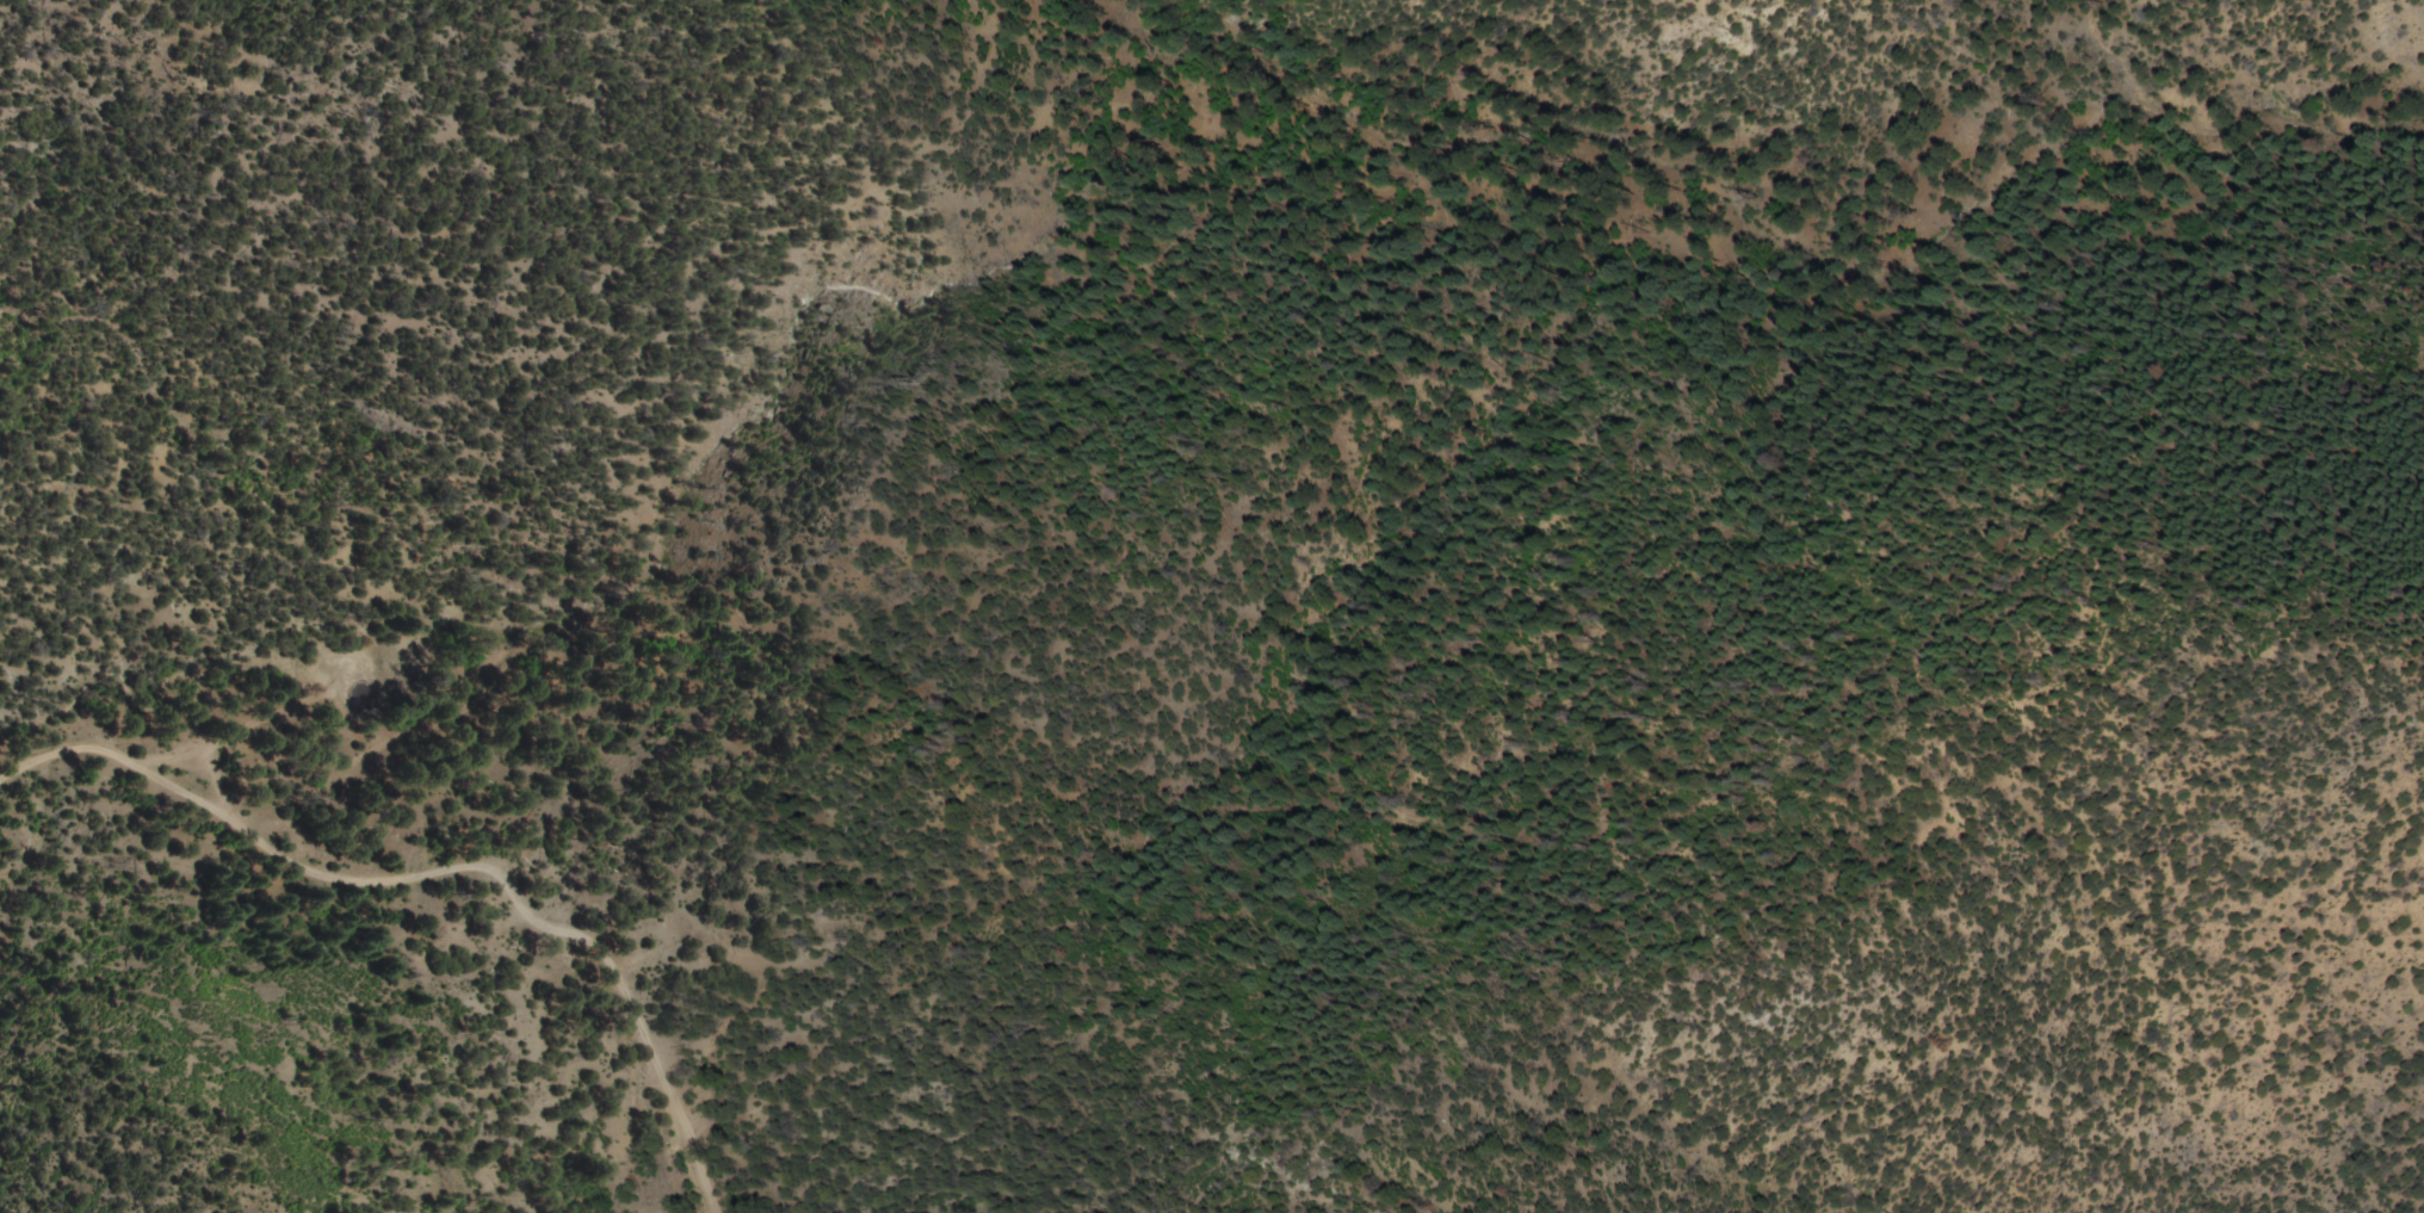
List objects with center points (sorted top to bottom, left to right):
road: (373, 755)
road: (437, 873)

